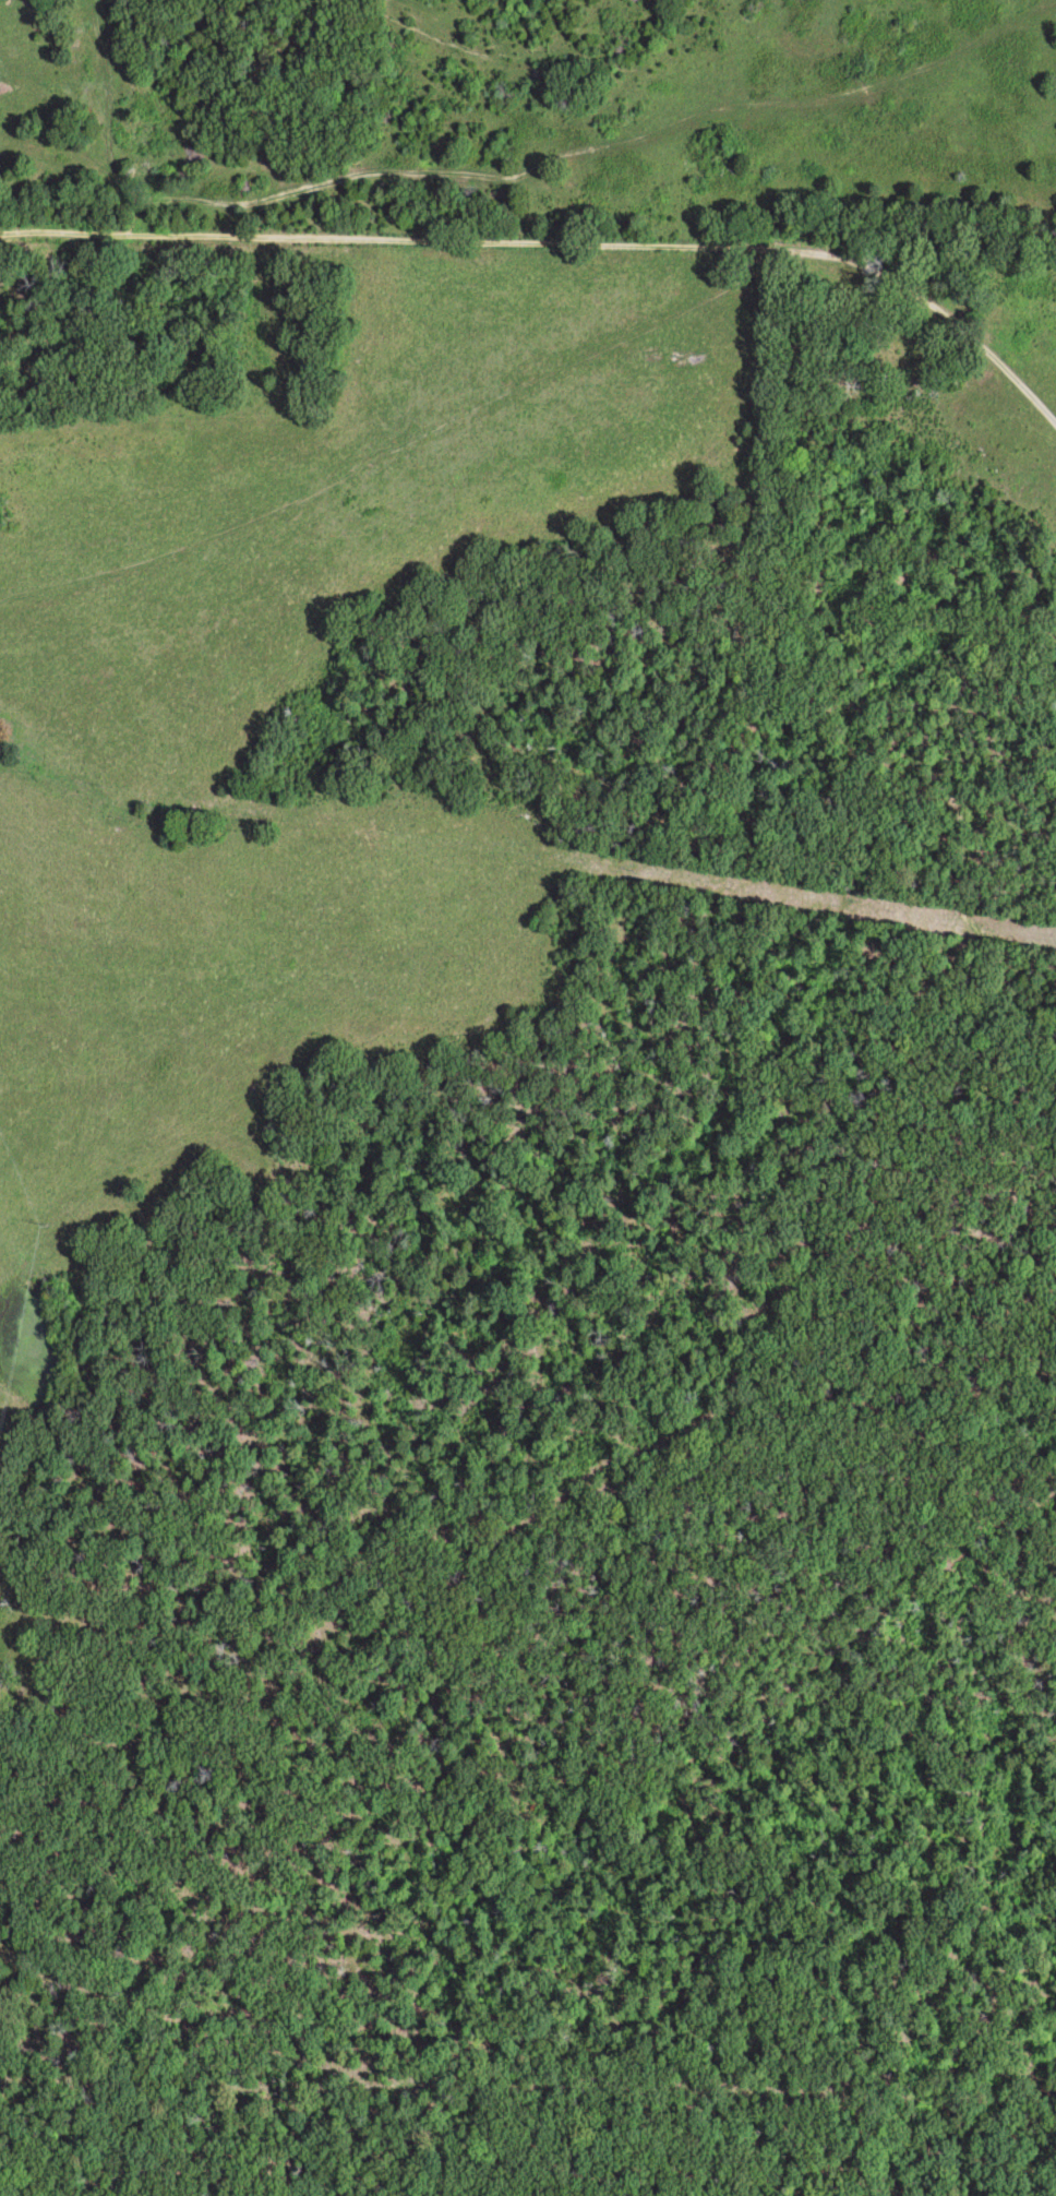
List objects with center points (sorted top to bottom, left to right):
road: (557, 240)

